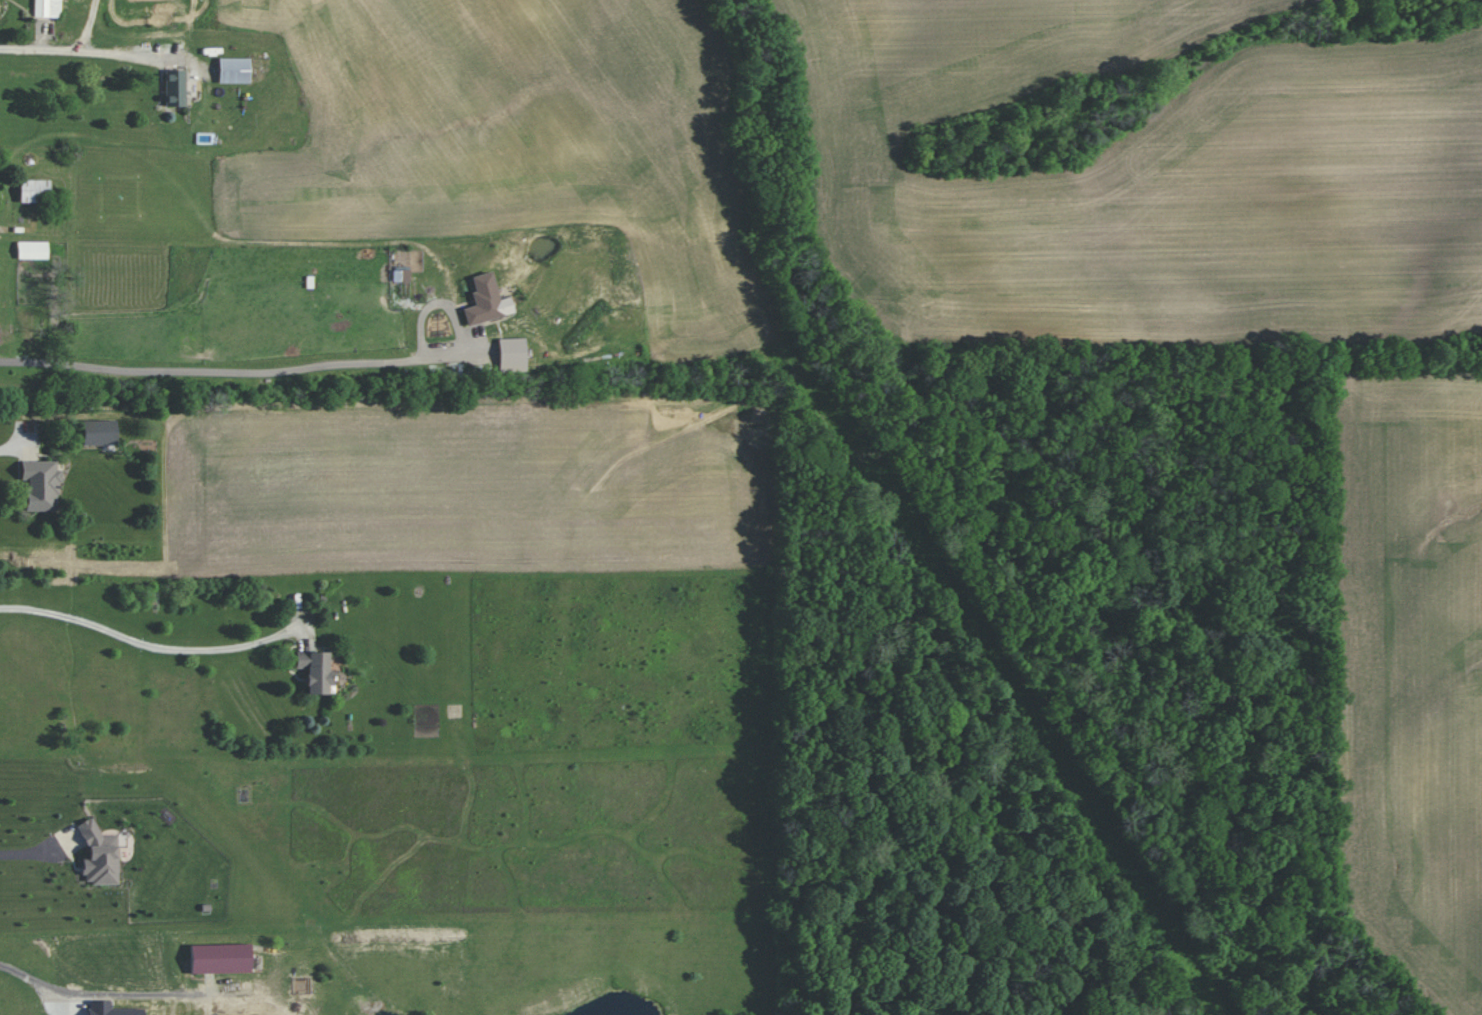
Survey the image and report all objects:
building: (47, 8)
road: (85, 24)
road: (76, 49)
building: (234, 70)
building: (175, 87)
building: (32, 250)
building: (483, 299)
building: (512, 350)
road: (236, 368)
building: (99, 432)
road: (9, 447)
building: (41, 484)
road: (148, 644)
building: (315, 670)
road: (30, 853)
building: (99, 856)
building: (220, 958)
road: (102, 994)
road: (209, 1000)
building: (111, 1009)

